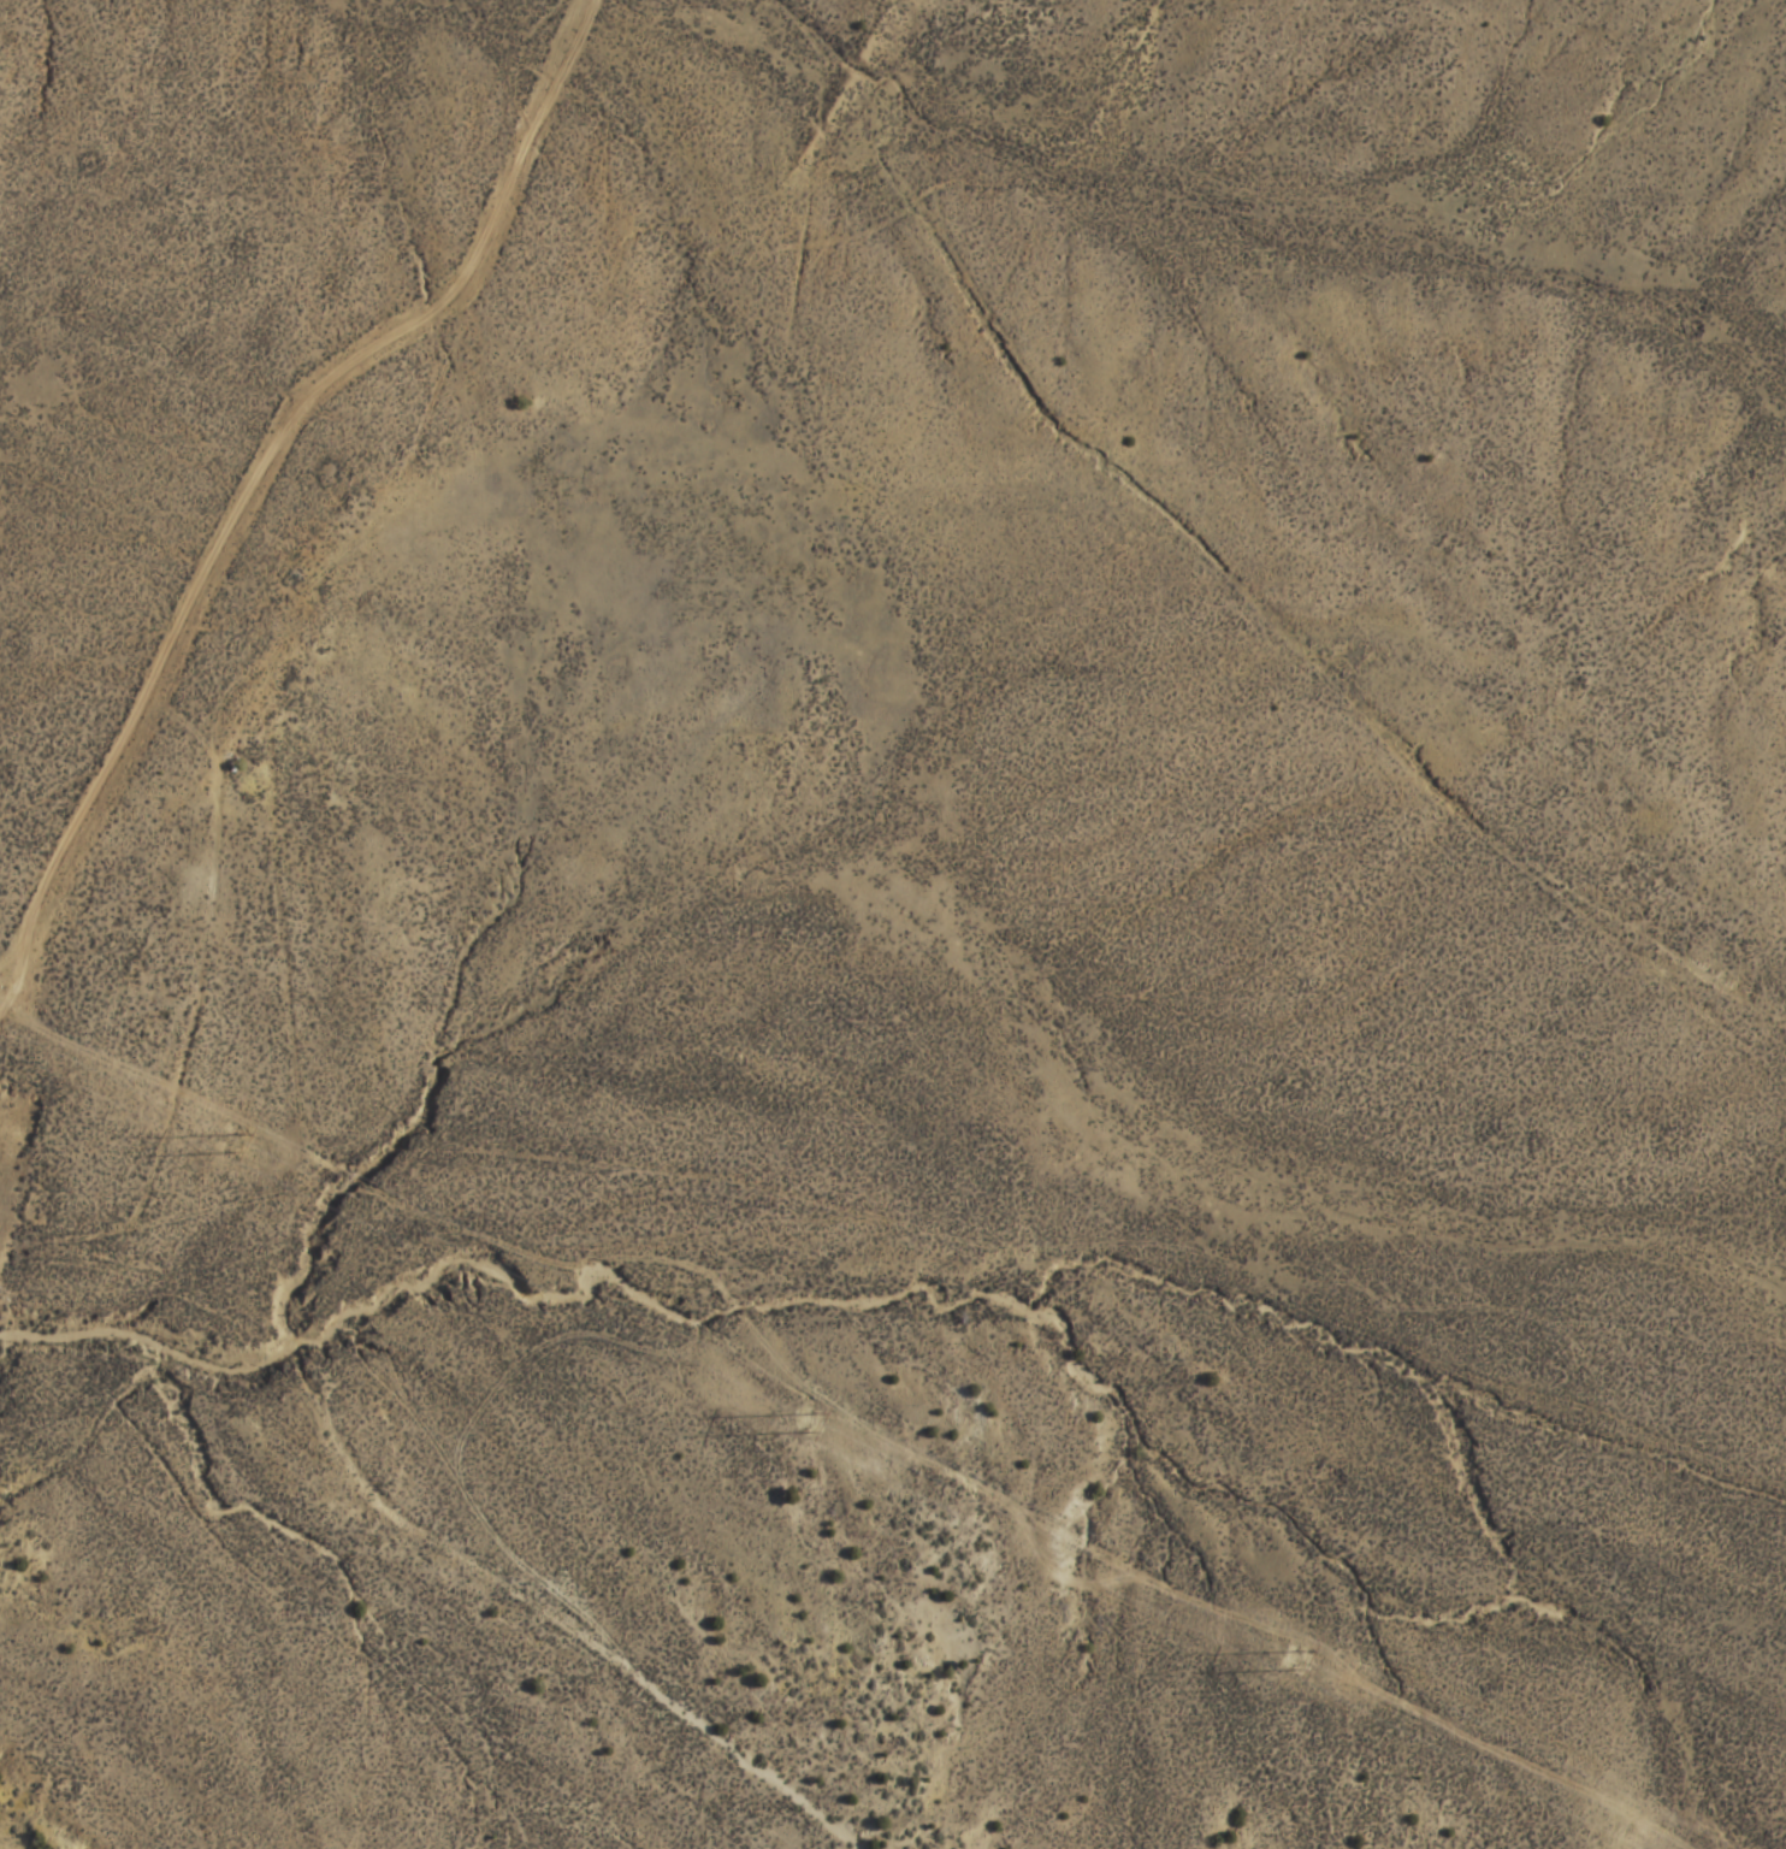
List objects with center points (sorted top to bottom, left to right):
road: (345, 983)
power tower: (230, 1139)
road: (175, 1221)
power tower: (804, 1419)
power tower: (1294, 1655)

